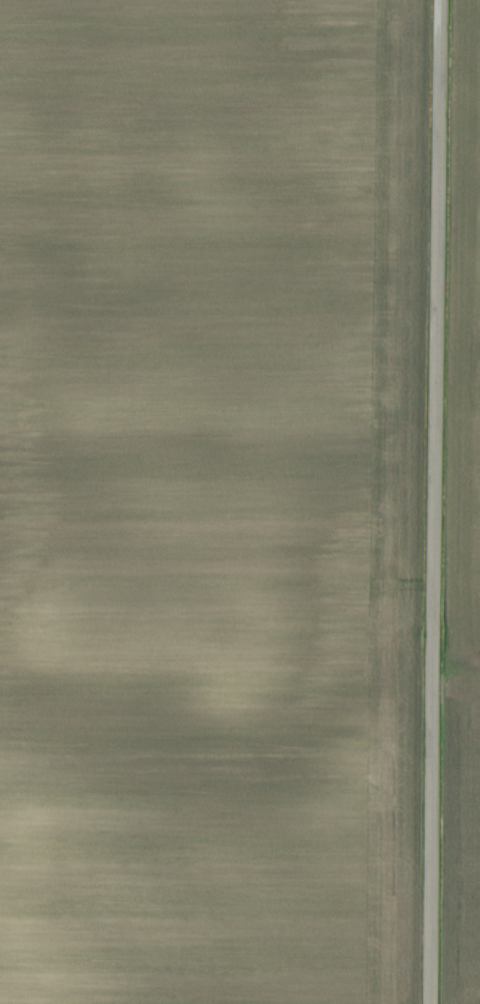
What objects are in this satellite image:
road: (432, 502)

